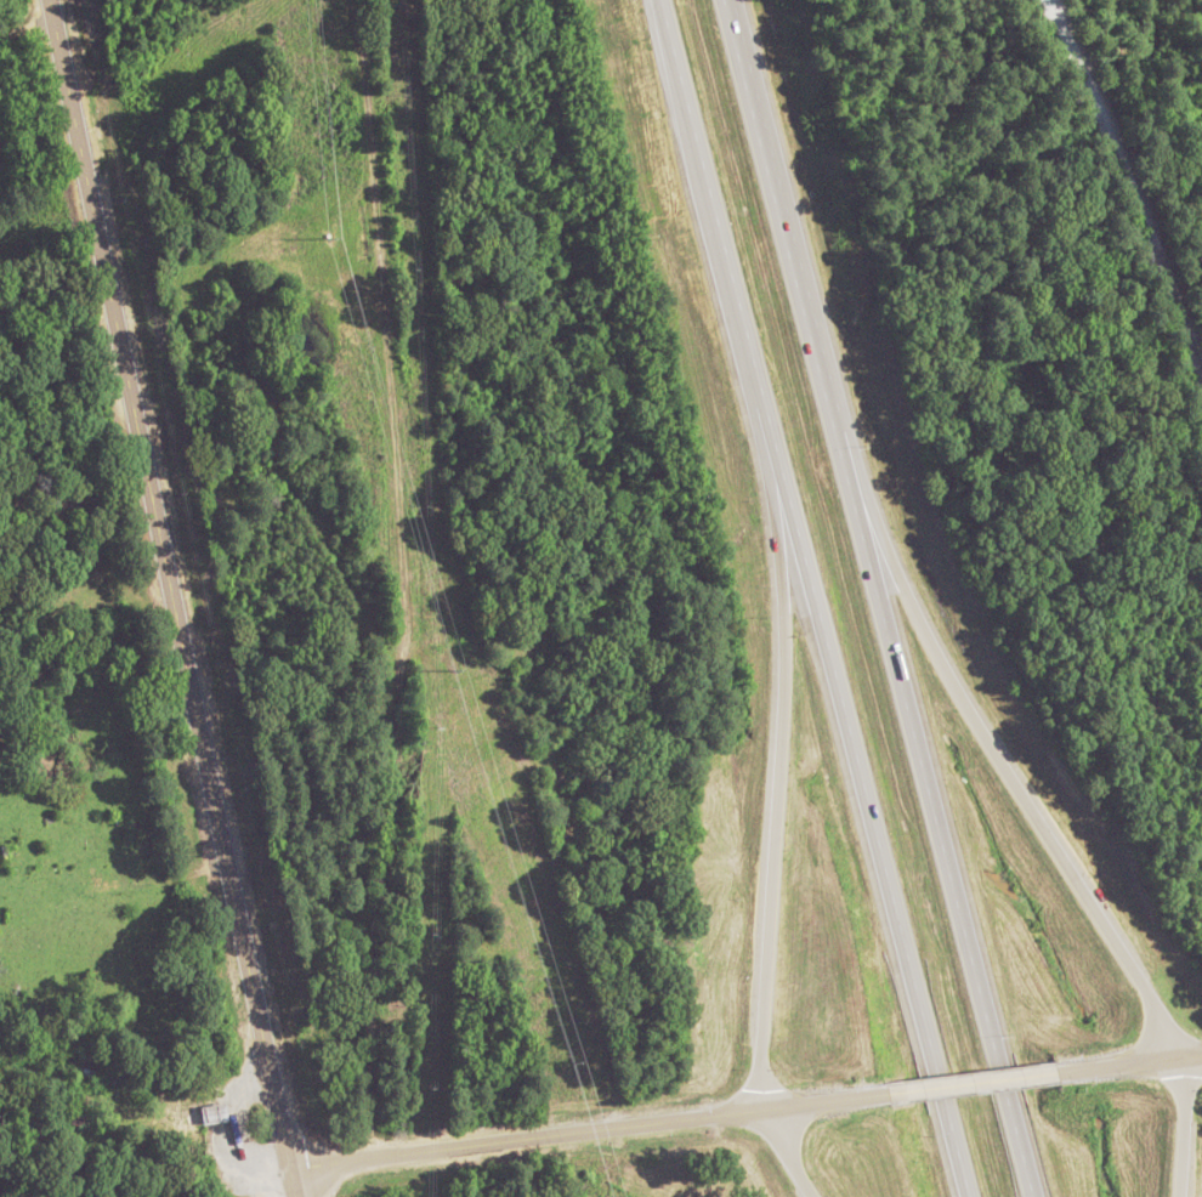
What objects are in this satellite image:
road: (25, 22)
road: (1129, 191)
power tower: (330, 236)
road: (401, 575)
road: (175, 597)
road: (813, 597)
road: (878, 597)
power tower: (458, 670)
road: (981, 728)
road: (778, 730)
building: (90, 1062)
power tower: (574, 1062)
road: (1121, 1063)
road: (960, 1085)
road: (820, 1101)
building: (189, 1112)
road: (1173, 1127)
road: (526, 1135)
road: (787, 1152)
road: (283, 1185)

